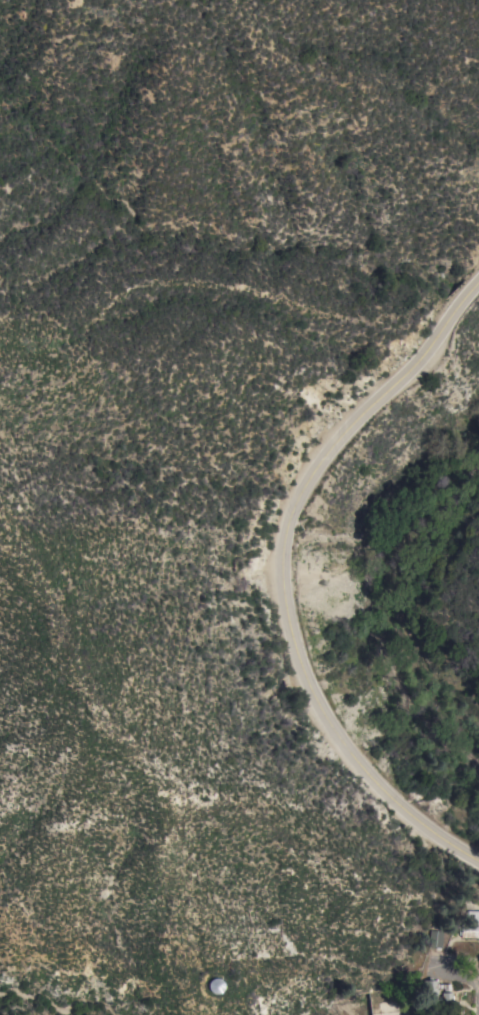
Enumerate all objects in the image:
road: (282, 577)
building: (470, 926)
building: (435, 940)
building: (215, 987)
building: (437, 996)

